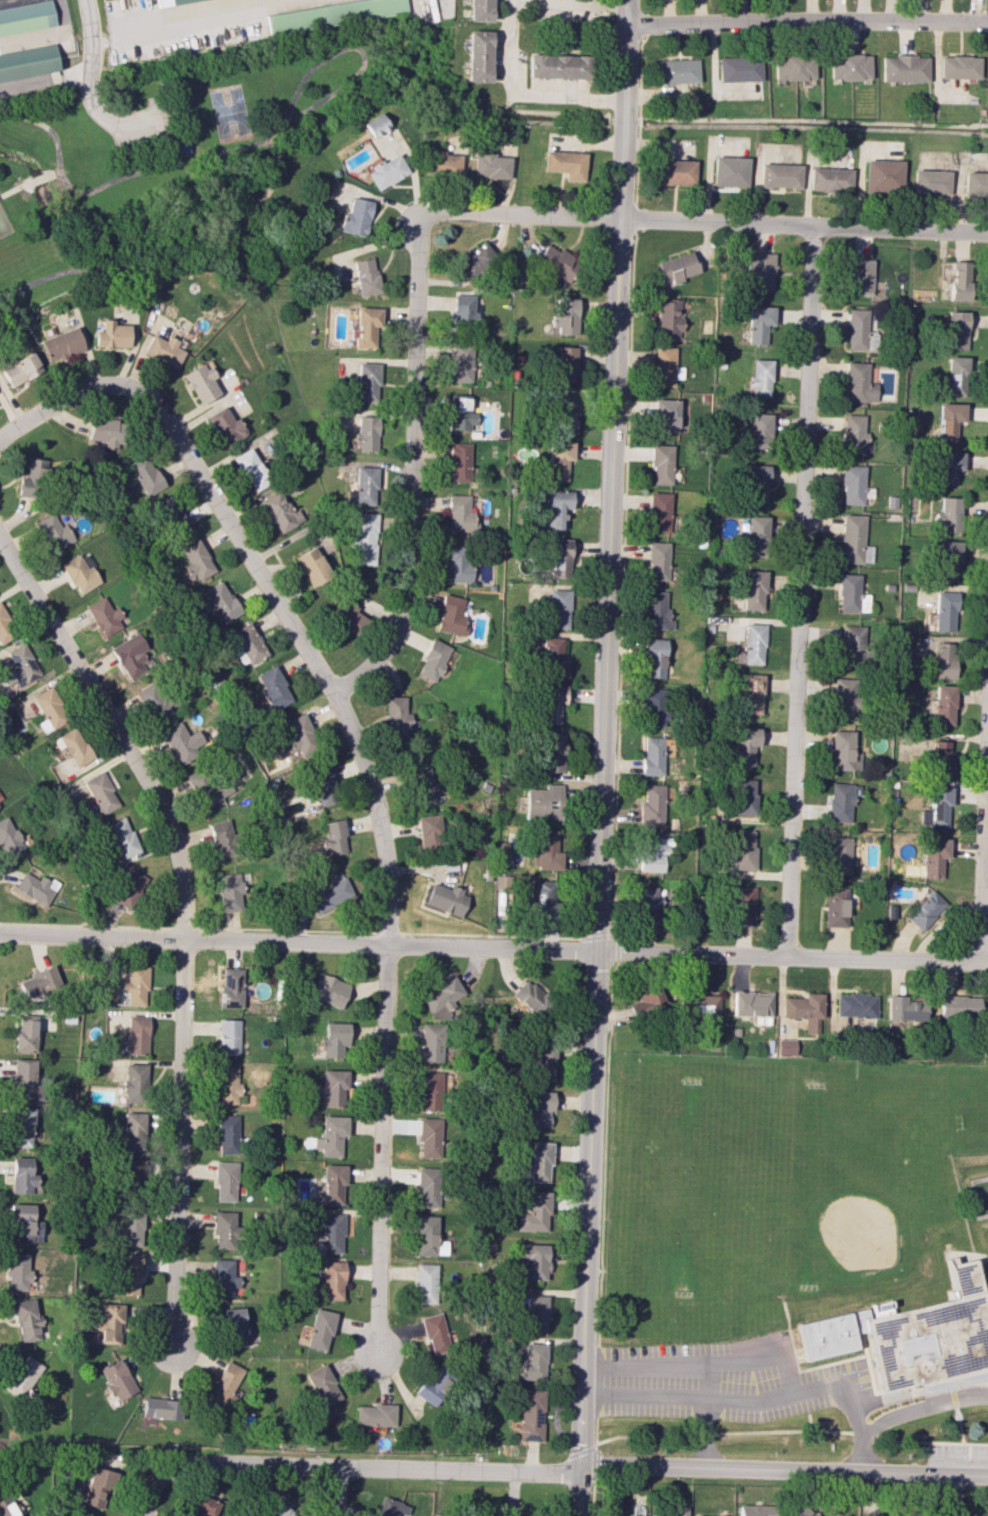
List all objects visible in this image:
road: (4, 0)
building: (163, 0)
road: (580, 2)
building: (479, 10)
building: (333, 14)
building: (26, 17)
road: (189, 19)
road: (806, 21)
road: (49, 35)
road: (351, 48)
building: (477, 56)
building: (27, 62)
building: (557, 66)
building: (848, 66)
building: (792, 67)
building: (959, 67)
road: (89, 68)
building: (739, 68)
building: (904, 68)
building: (677, 70)
road: (44, 82)
road: (520, 93)
park: (230, 113)
road: (141, 121)
road: (197, 122)
parking lot: (146, 123)
building: (375, 125)
road: (176, 142)
building: (183, 147)
road: (274, 151)
road: (175, 153)
park: (183, 159)
building: (445, 164)
building: (565, 164)
building: (490, 166)
building: (386, 171)
building: (730, 171)
building: (673, 172)
road: (53, 174)
building: (883, 174)
building: (779, 175)
road: (37, 179)
building: (830, 179)
road: (116, 180)
building: (931, 181)
building: (976, 183)
road: (14, 189)
building: (355, 217)
road: (700, 221)
park: (4, 225)
building: (476, 260)
building: (558, 262)
road: (168, 265)
building: (678, 267)
building: (763, 271)
building: (365, 276)
building: (861, 277)
building: (464, 310)
building: (565, 317)
building: (669, 318)
building: (760, 323)
building: (367, 327)
building: (859, 330)
building: (957, 330)
building: (112, 334)
building: (61, 344)
building: (163, 350)
building: (462, 361)
building: (565, 364)
building: (664, 366)
building: (20, 369)
building: (955, 376)
building: (761, 378)
building: (368, 381)
building: (201, 383)
building: (859, 383)
building: (461, 413)
building: (565, 414)
road: (35, 415)
building: (667, 415)
building: (949, 420)
building: (226, 426)
building: (107, 431)
building: (760, 431)
building: (853, 433)
building: (558, 460)
building: (459, 462)
building: (662, 464)
building: (949, 467)
building: (251, 469)
road: (409, 471)
building: (145, 475)
building: (32, 478)
building: (757, 483)
building: (852, 485)
building: (363, 487)
building: (557, 509)
building: (279, 511)
building: (659, 512)
building: (459, 514)
building: (948, 514)
building: (172, 516)
building: (53, 532)
building: (756, 537)
building: (362, 538)
building: (854, 540)
building: (560, 558)
building: (948, 559)
building: (197, 560)
building: (658, 561)
building: (457, 564)
building: (312, 567)
building: (79, 574)
building: (754, 590)
road: (799, 591)
building: (849, 592)
building: (222, 601)
building: (558, 609)
building: (657, 611)
building: (945, 611)
building: (451, 615)
building: (104, 616)
building: (343, 616)
building: (5, 626)
building: (247, 644)
building: (754, 644)
building: (853, 644)
building: (655, 658)
building: (134, 659)
building: (553, 659)
building: (433, 660)
building: (944, 660)
building: (19, 668)
building: (273, 688)
building: (750, 693)
building: (846, 697)
building: (153, 701)
building: (551, 703)
building: (944, 705)
building: (51, 707)
building: (655, 707)
building: (394, 716)
building: (300, 735)
building: (183, 742)
building: (745, 745)
building: (72, 747)
building: (843, 750)
building: (553, 752)
building: (653, 756)
building: (941, 757)
road: (602, 758)
building: (421, 784)
building: (322, 786)
building: (208, 787)
building: (101, 793)
building: (744, 796)
building: (1, 800)
building: (543, 802)
building: (840, 802)
road: (374, 803)
building: (652, 806)
building: (937, 808)
road: (982, 824)
building: (430, 835)
building: (8, 838)
building: (122, 838)
building: (224, 838)
building: (334, 838)
building: (501, 849)
building: (743, 850)
building: (547, 851)
building: (653, 853)
building: (839, 855)
building: (934, 856)
building: (34, 888)
building: (129, 888)
building: (233, 892)
building: (331, 892)
building: (446, 899)
building: (545, 899)
building: (649, 904)
building: (742, 905)
building: (835, 906)
building: (926, 910)
road: (183, 919)
road: (494, 948)
building: (37, 981)
building: (132, 988)
building: (231, 988)
building: (330, 990)
building: (442, 998)
building: (531, 998)
building: (647, 1003)
building: (751, 1003)
building: (702, 1004)
building: (855, 1006)
building: (958, 1006)
building: (903, 1010)
building: (805, 1011)
building: (25, 1034)
building: (136, 1034)
building: (229, 1036)
building: (336, 1040)
building: (432, 1042)
building: (786, 1046)
building: (542, 1061)
building: (24, 1079)
building: (134, 1081)
building: (227, 1085)
building: (335, 1088)
building: (434, 1091)
building: (539, 1107)
building: (21, 1127)
building: (133, 1131)
building: (227, 1134)
building: (331, 1135)
building: (430, 1138)
building: (541, 1162)
building: (131, 1168)
building: (22, 1176)
building: (225, 1181)
building: (333, 1184)
park: (744, 1185)
building: (429, 1187)
road: (605, 1187)
park: (783, 1190)
building: (536, 1213)
building: (25, 1225)
building: (131, 1226)
building: (224, 1230)
building: (332, 1233)
park: (861, 1235)
building: (428, 1237)
road: (984, 1259)
building: (533, 1261)
park: (987, 1266)
building: (17, 1271)
building: (129, 1274)
building: (223, 1277)
road: (984, 1278)
building: (332, 1280)
building: (425, 1283)
building: (881, 1308)
building: (536, 1313)
building: (27, 1320)
building: (111, 1323)
building: (233, 1327)
building: (319, 1329)
building: (435, 1334)
building: (910, 1335)
road: (774, 1354)
building: (534, 1361)
road: (810, 1369)
building: (24, 1379)
building: (118, 1379)
building: (225, 1382)
road: (914, 1383)
road: (597, 1384)
building: (322, 1385)
building: (433, 1386)
road: (949, 1393)
road: (644, 1399)
building: (162, 1408)
building: (530, 1414)
building: (374, 1415)
road: (872, 1428)
road: (783, 1431)
road: (865, 1434)
road: (705, 1435)
road: (634, 1436)
road: (961, 1438)
road: (932, 1442)
road: (583, 1450)
road: (864, 1453)
road: (595, 1461)
road: (577, 1474)
building: (97, 1487)
road: (150, 1490)
road: (334, 1492)
building: (204, 1506)
building: (7, 1507)
building: (278, 1507)
building: (390, 1508)
building: (756, 1510)
building: (671, 1512)
building: (518, 1515)
building: (617, 1515)
building: (698, 1515)

